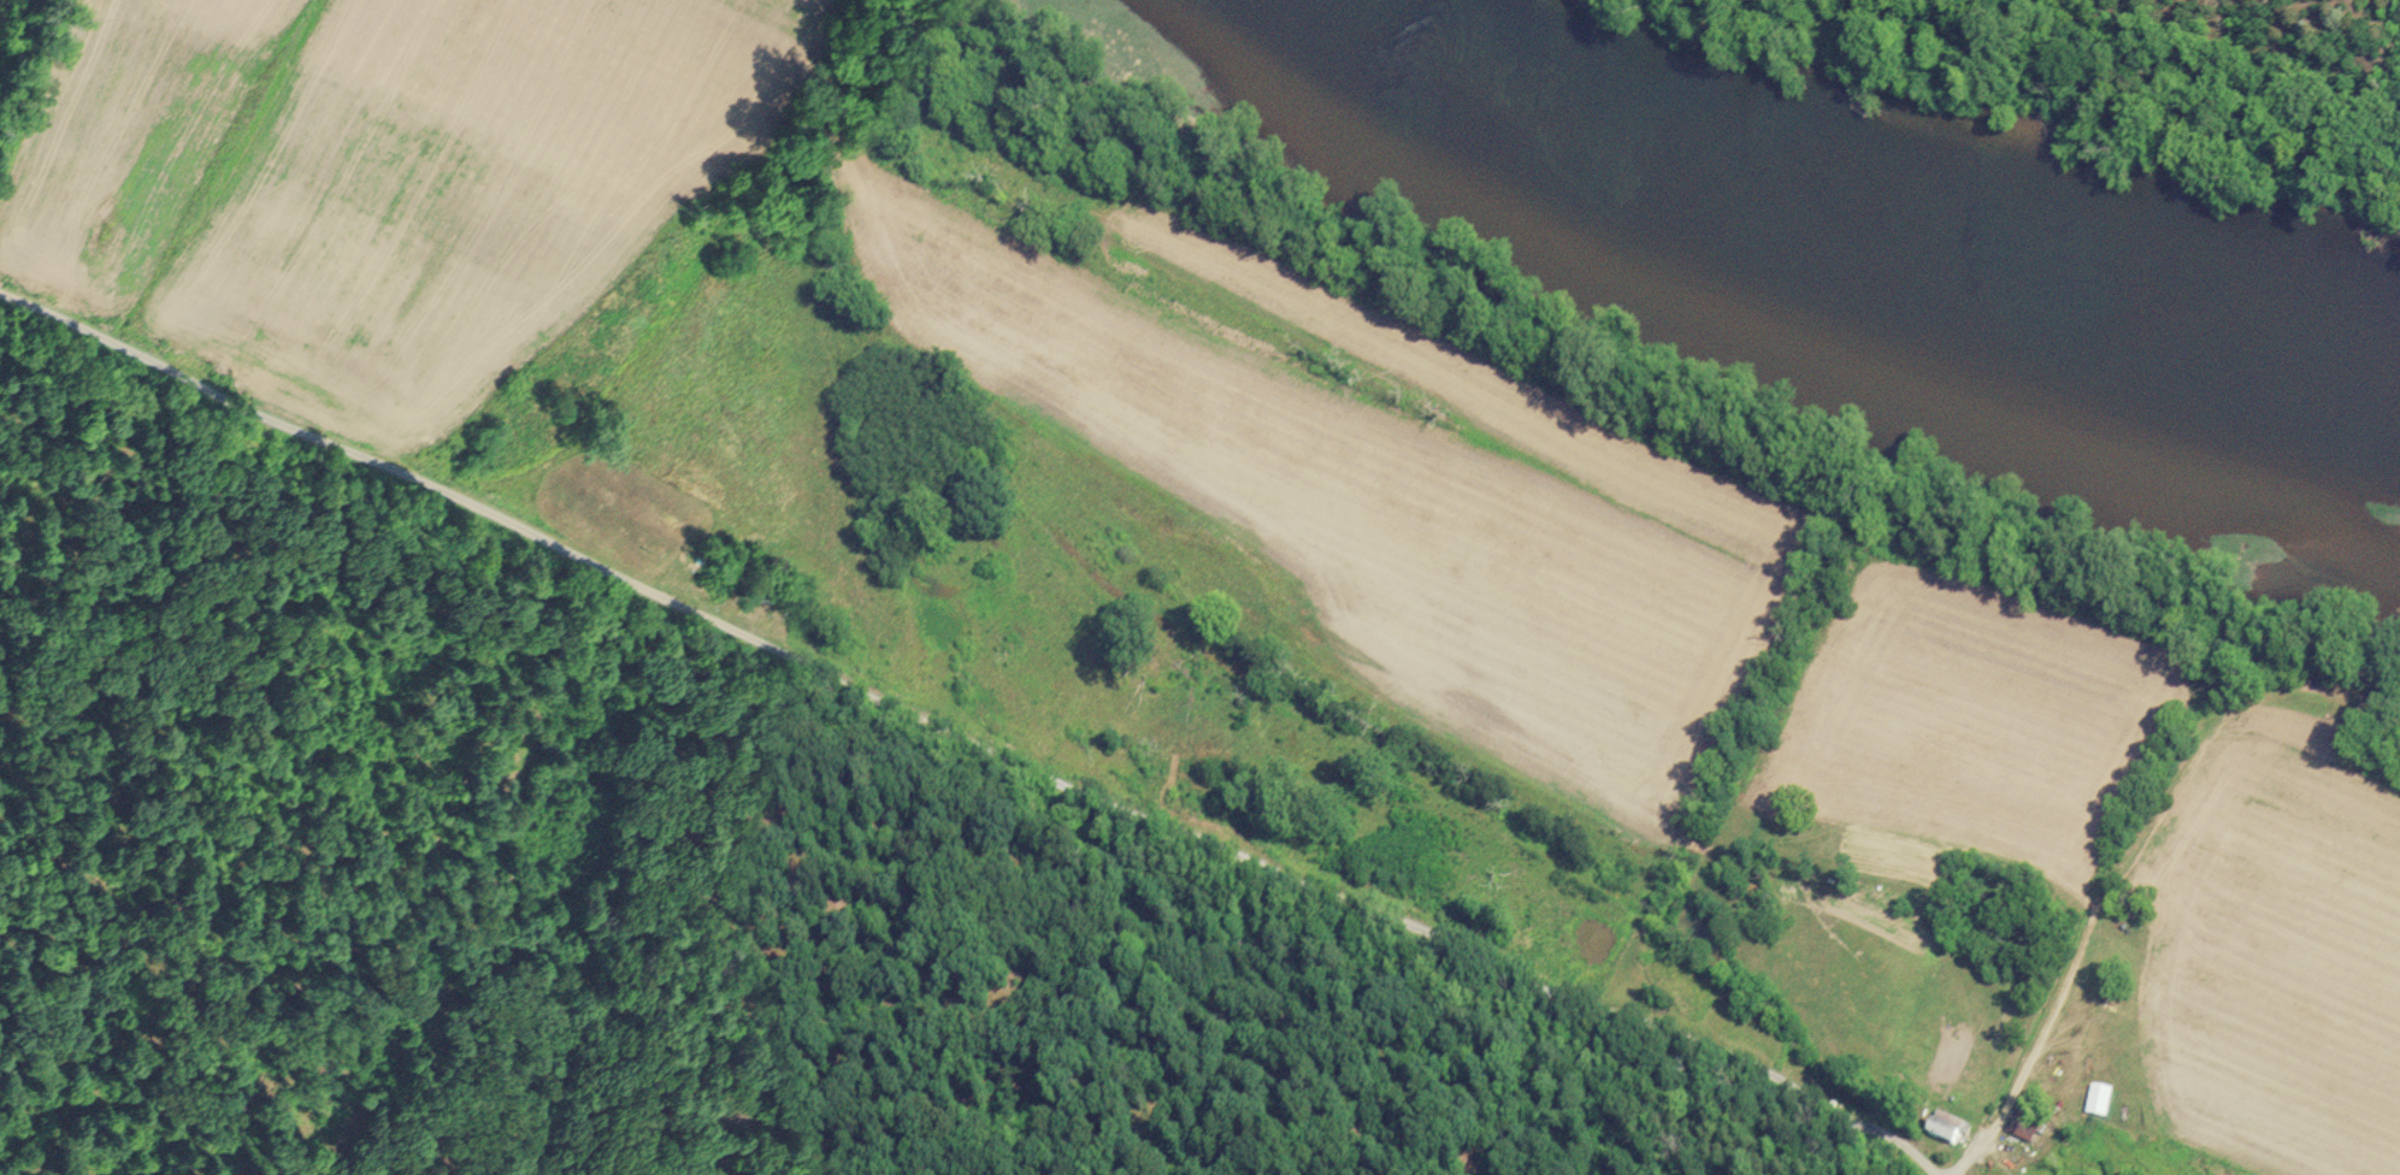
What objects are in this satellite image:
road: (2156, 79)
river: (1858, 238)
road: (959, 734)
building: (1948, 1128)

